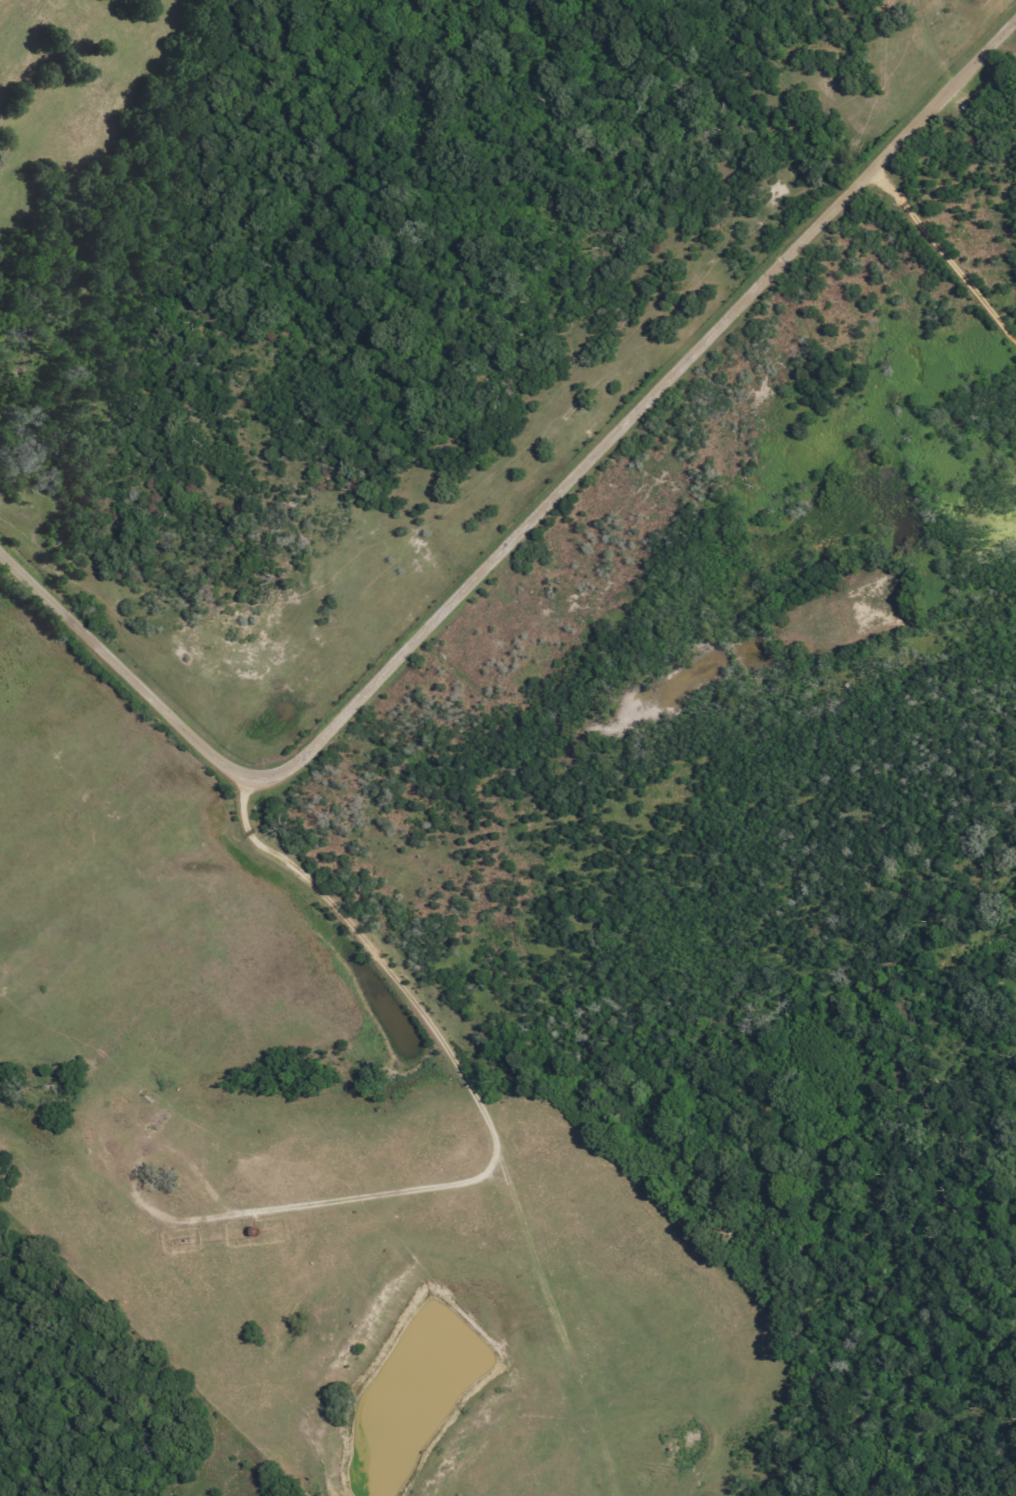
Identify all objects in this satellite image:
road: (873, 436)
road: (524, 534)

